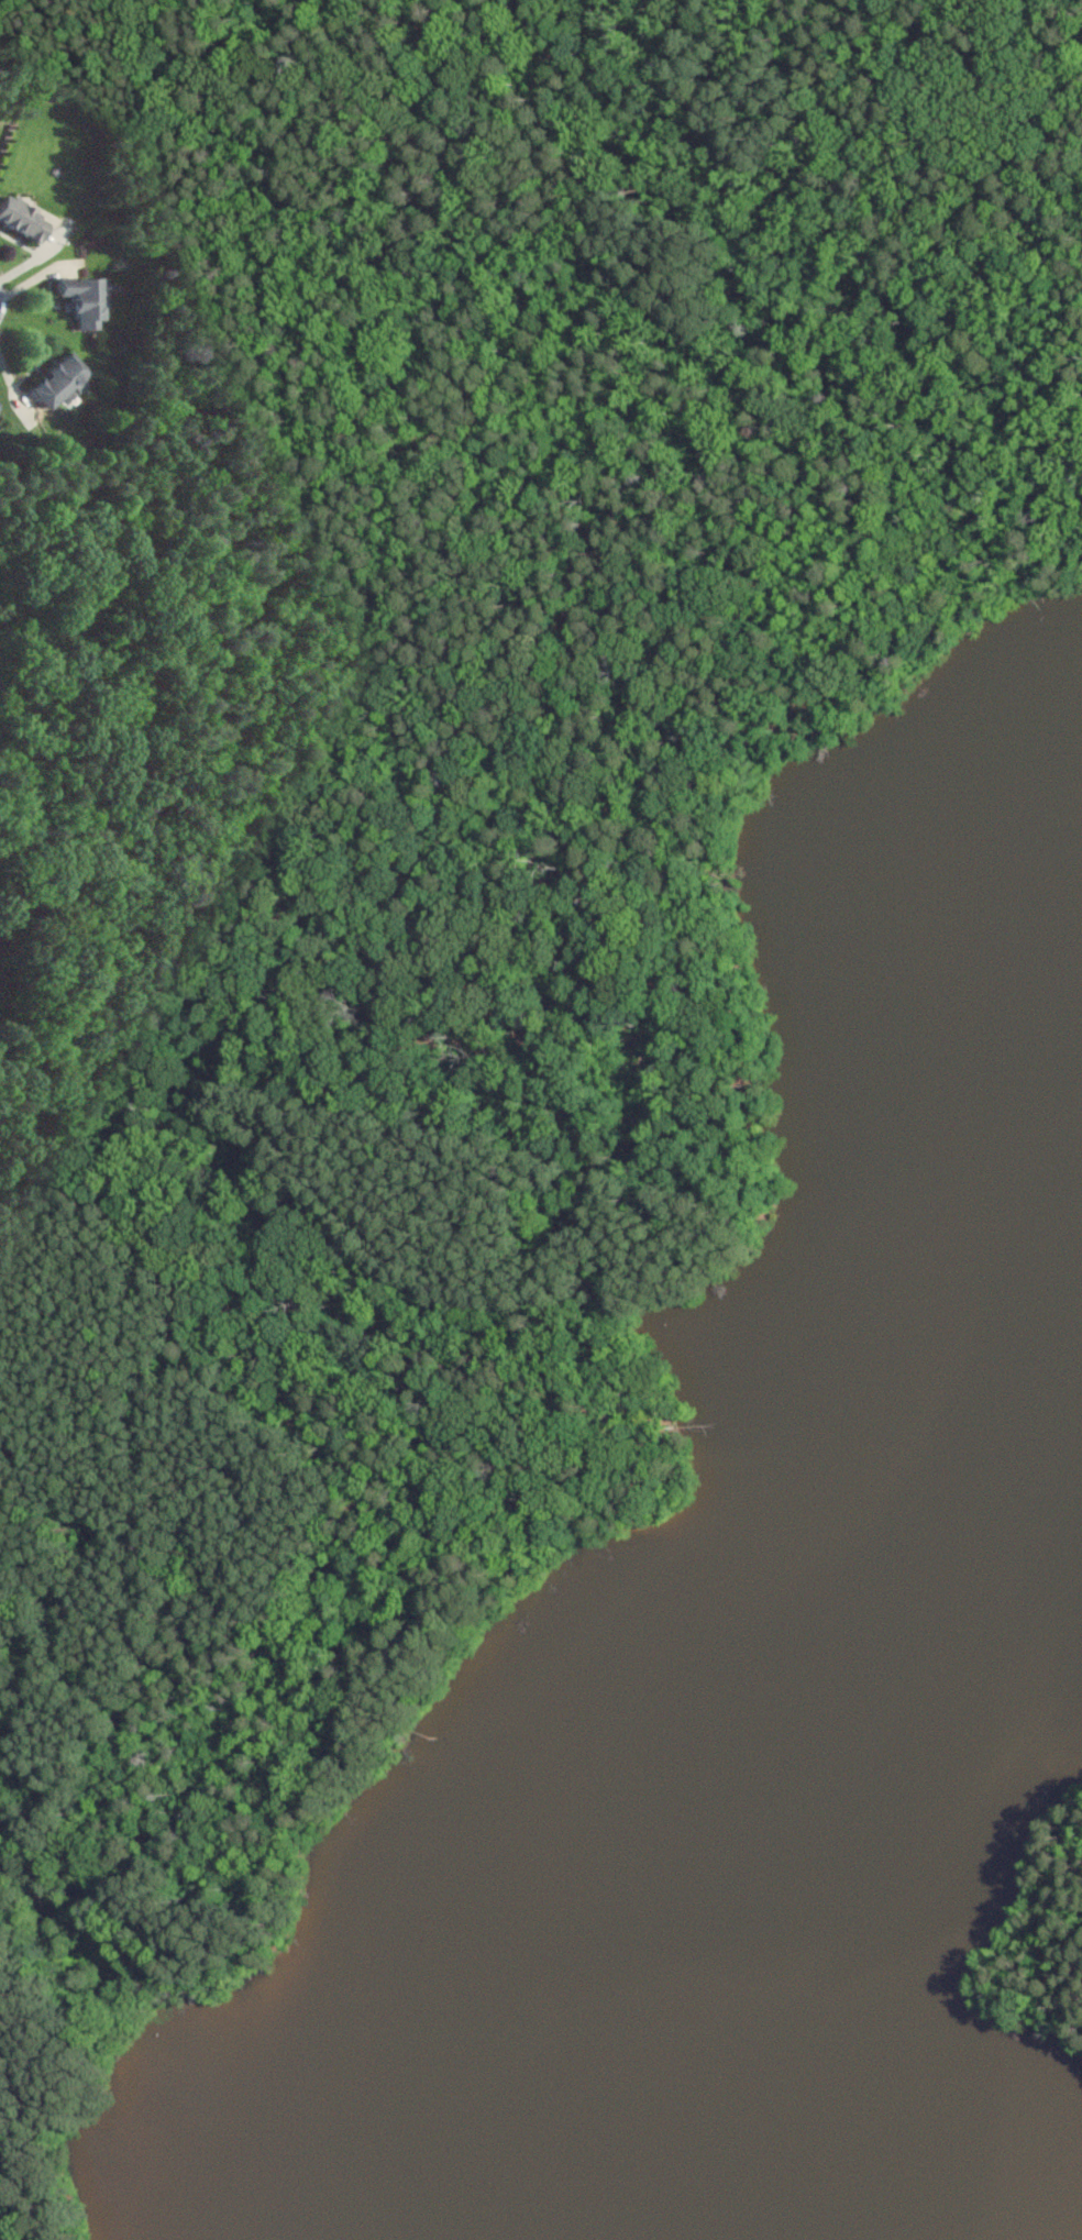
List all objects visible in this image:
building: (25, 217)
building: (87, 298)
building: (63, 379)
road: (15, 382)
road: (361, 727)
road: (533, 1290)
park: (1075, 1939)
road: (14, 2208)

